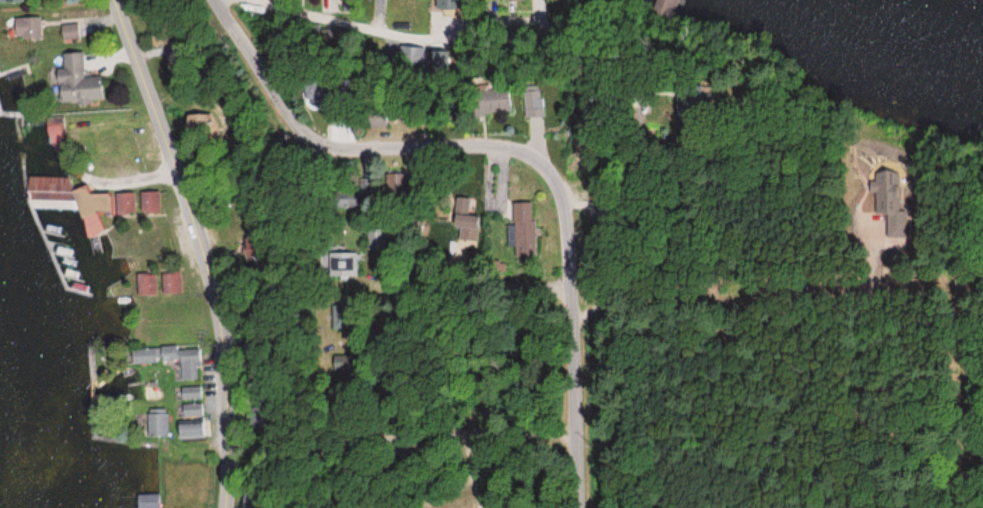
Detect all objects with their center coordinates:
building: (26, 28)
building: (414, 56)
road: (512, 58)
building: (76, 82)
building: (309, 87)
building: (490, 99)
building: (529, 99)
building: (373, 116)
road: (518, 151)
building: (347, 199)
building: (889, 202)
building: (466, 214)
building: (92, 224)
building: (522, 230)
road: (205, 247)
building: (344, 266)
road: (489, 289)
road: (664, 358)
building: (189, 365)
building: (190, 392)
road: (756, 402)
building: (192, 409)
road: (377, 420)
building: (157, 422)
road: (491, 428)
building: (190, 430)

